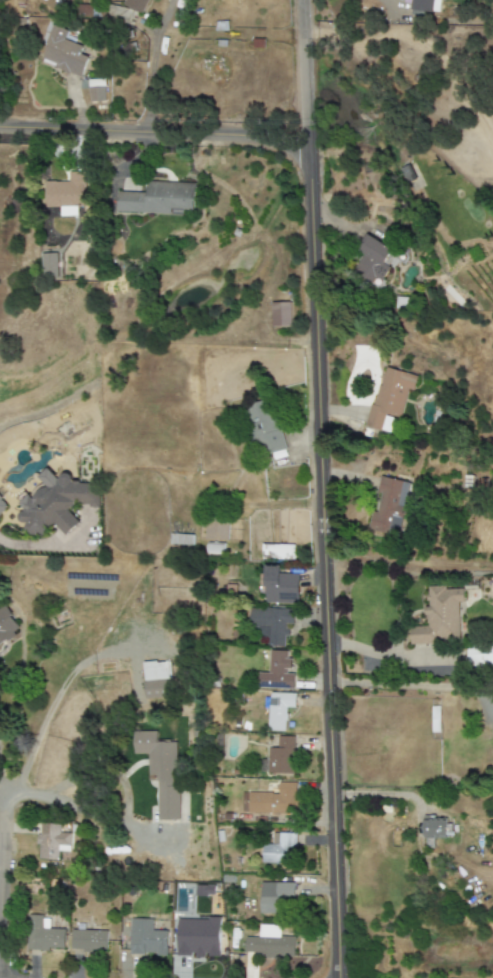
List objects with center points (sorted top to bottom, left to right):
building: (135, 5)
building: (425, 6)
building: (63, 53)
road: (152, 63)
building: (96, 90)
road: (152, 132)
building: (67, 191)
building: (158, 199)
building: (374, 260)
building: (49, 265)
building: (280, 314)
building: (390, 396)
building: (263, 429)
road: (319, 489)
building: (2, 504)
building: (388, 506)
building: (216, 530)
building: (183, 543)
building: (215, 552)
building: (276, 552)
building: (92, 588)
building: (282, 590)
building: (439, 617)
building: (7, 626)
building: (271, 632)
road: (384, 654)
building: (480, 655)
building: (279, 673)
building: (158, 678)
road: (407, 686)
building: (275, 720)
building: (294, 760)
building: (165, 778)
road: (2, 787)
building: (268, 801)
road: (74, 809)
building: (473, 827)
building: (434, 831)
road: (2, 838)
building: (62, 841)
building: (281, 850)
building: (275, 900)
building: (149, 938)
building: (47, 943)
building: (91, 944)
building: (201, 948)
building: (273, 949)

